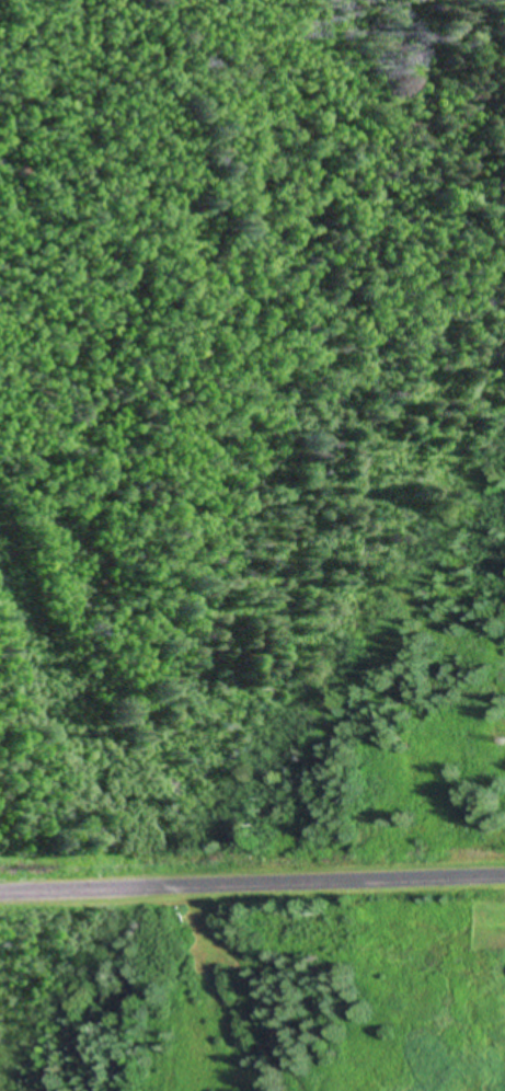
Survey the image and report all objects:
road: (252, 883)

